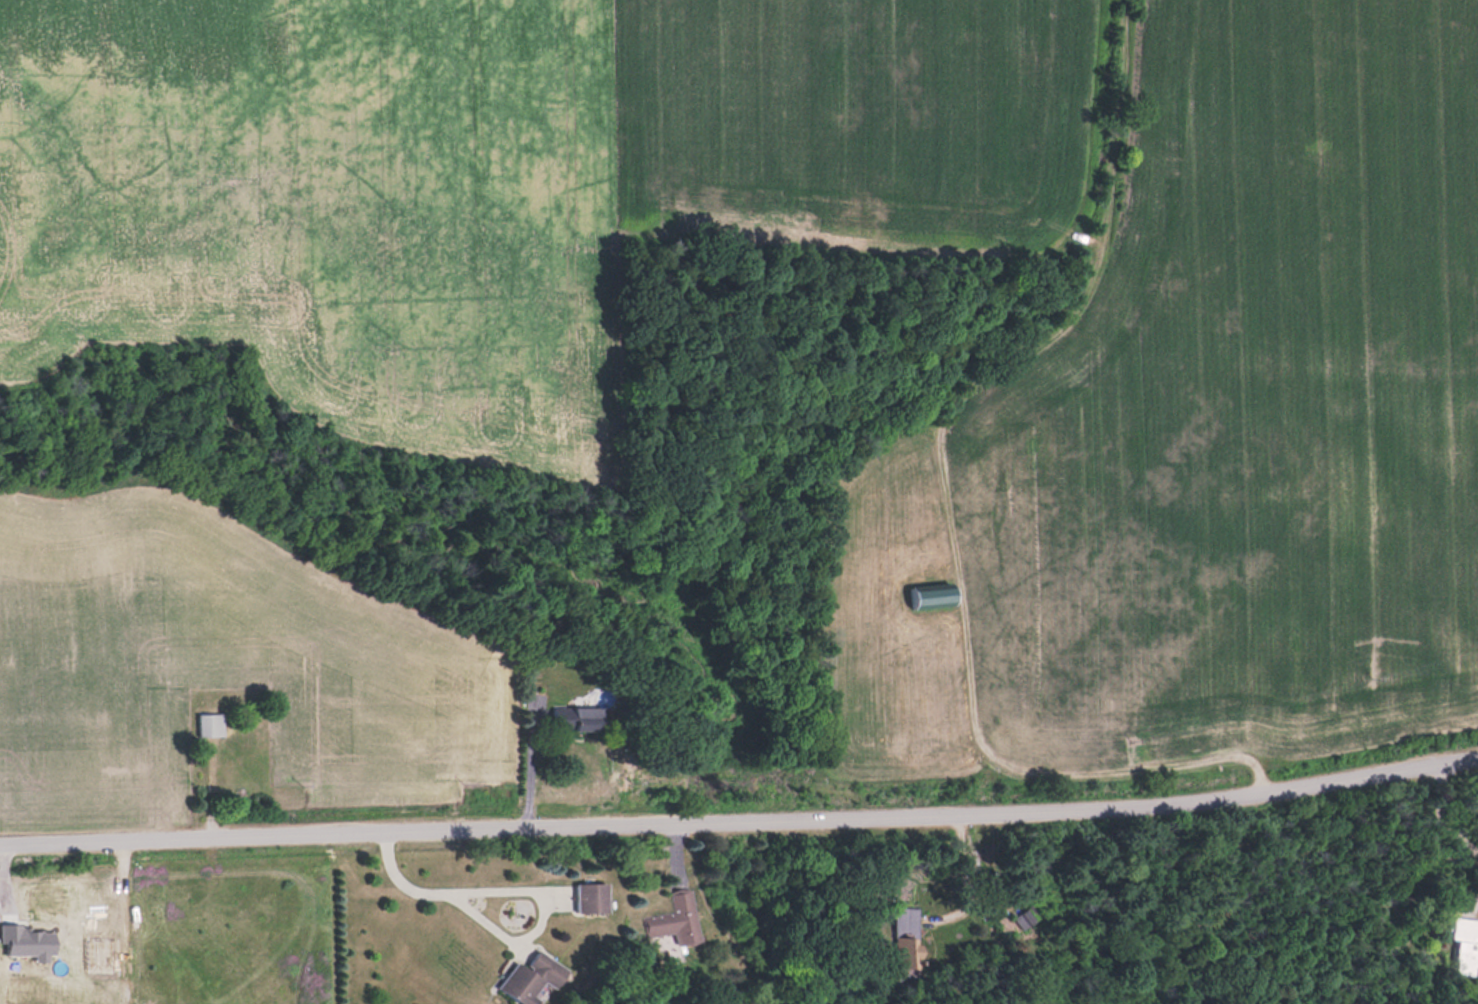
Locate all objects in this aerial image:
road: (947, 492)
building: (933, 594)
building: (579, 719)
building: (211, 725)
building: (243, 740)
road: (741, 828)
road: (518, 886)
building: (595, 896)
building: (676, 918)
building: (1465, 943)
building: (533, 978)

